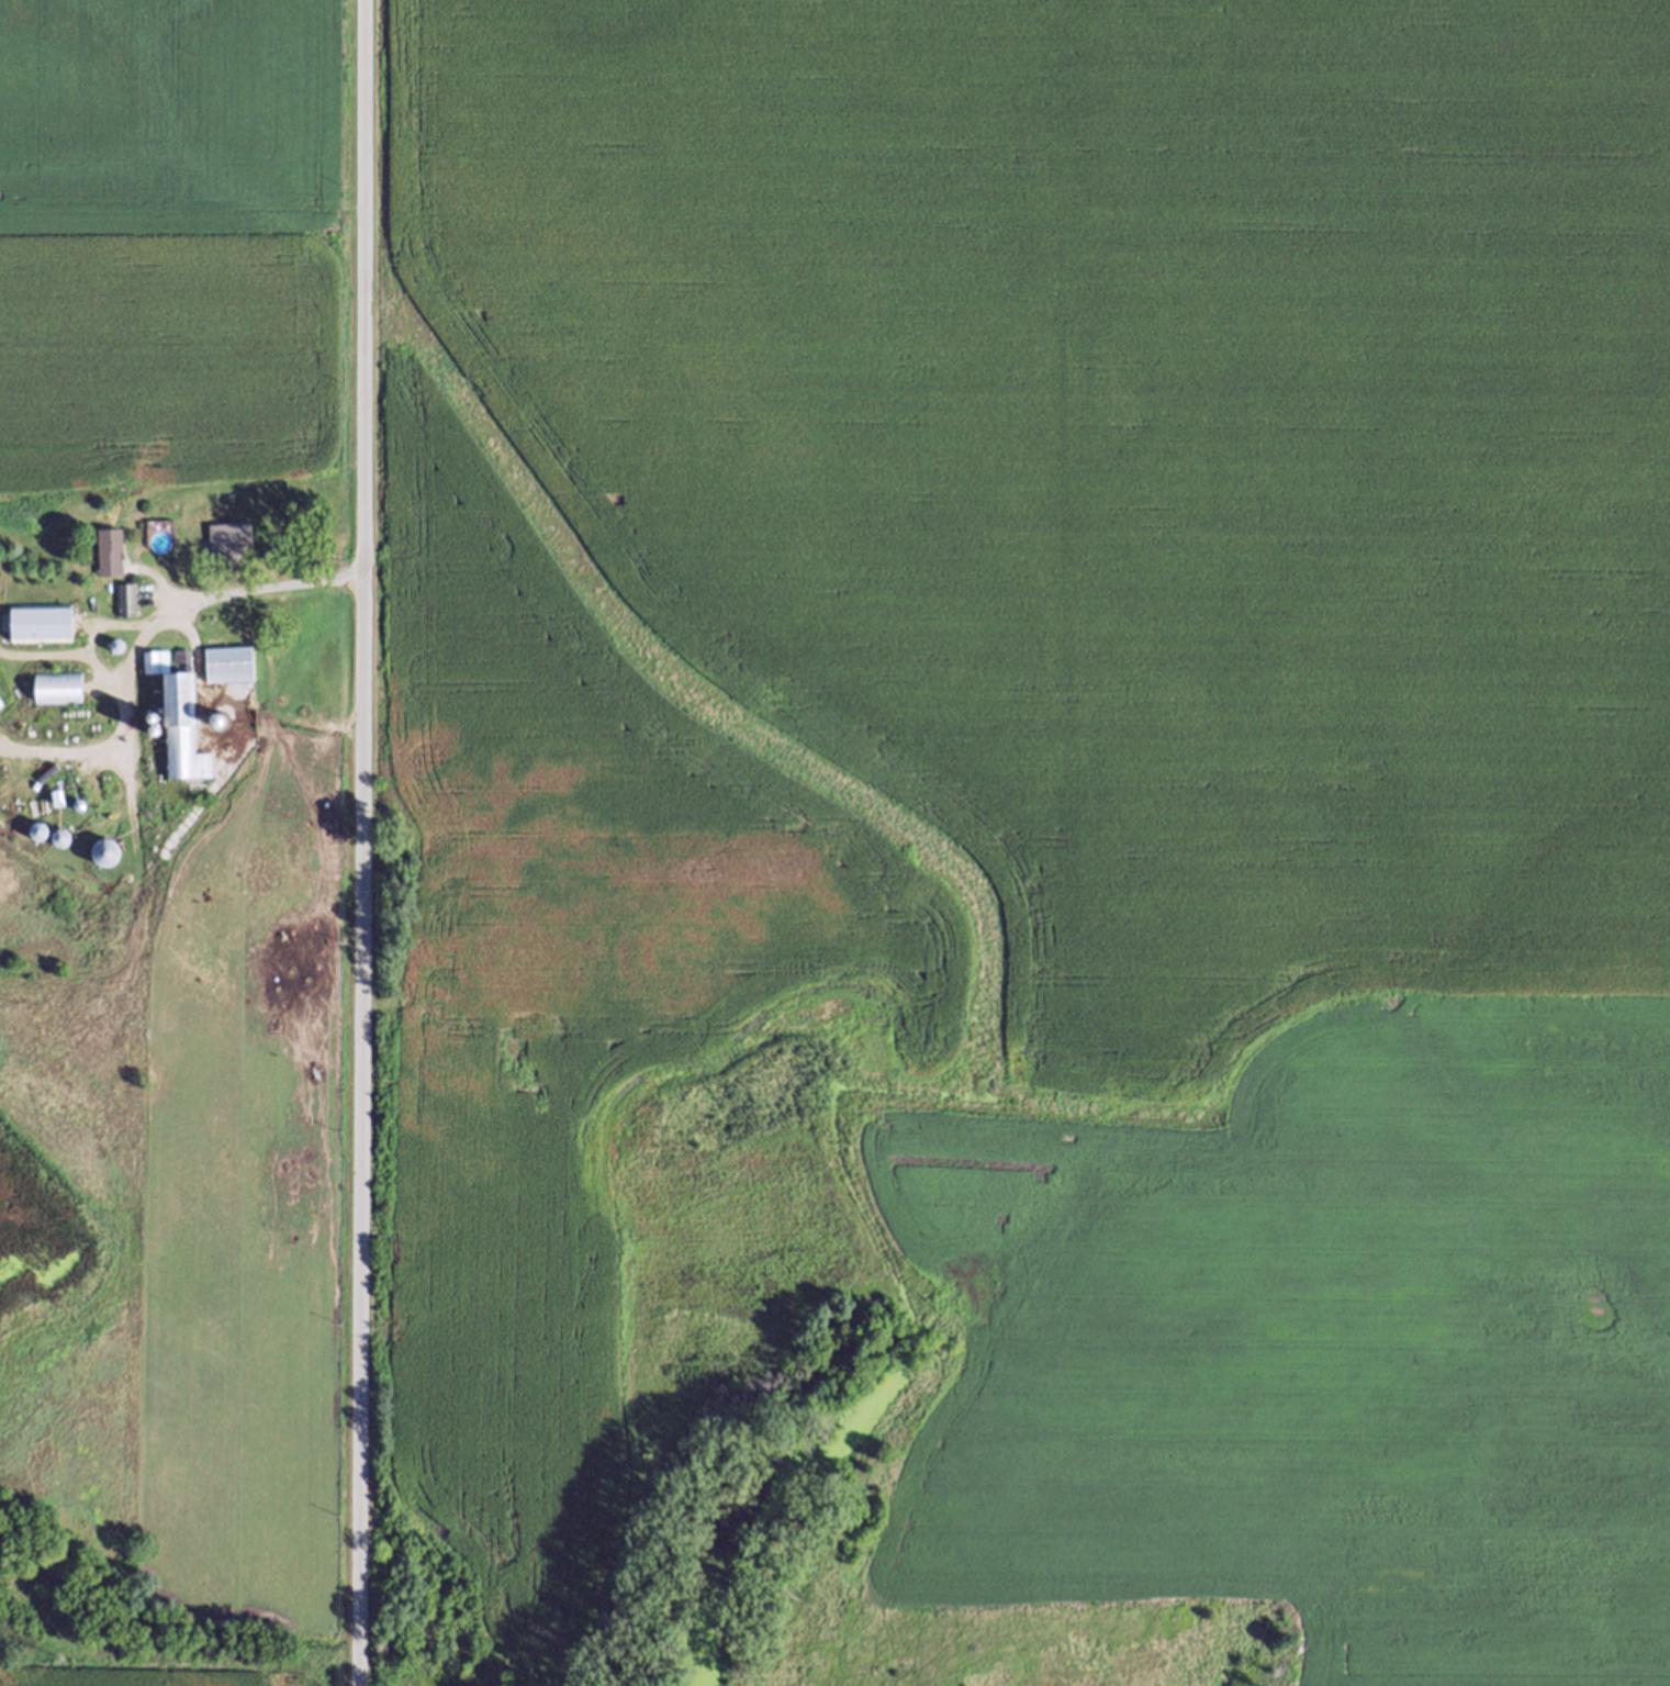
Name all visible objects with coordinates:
building: (217, 551)
building: (108, 562)
building: (125, 610)
building: (35, 632)
building: (226, 673)
building: (54, 697)
building: (0, 715)
building: (180, 726)
road: (362, 842)
building: (102, 862)

